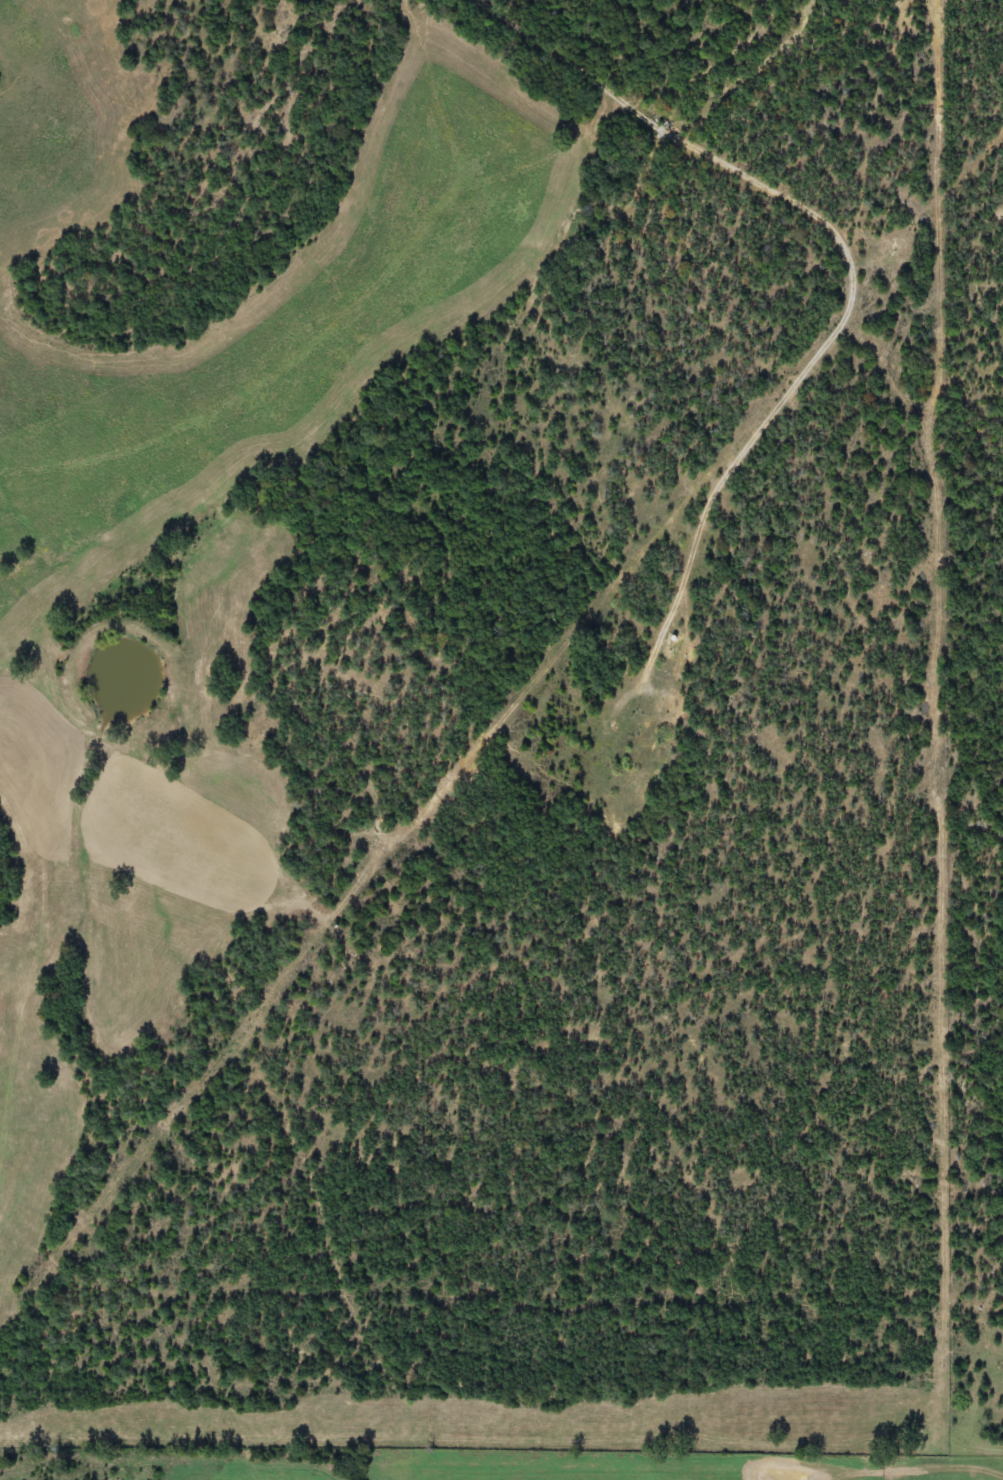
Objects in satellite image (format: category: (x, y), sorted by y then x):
road: (852, 296)

